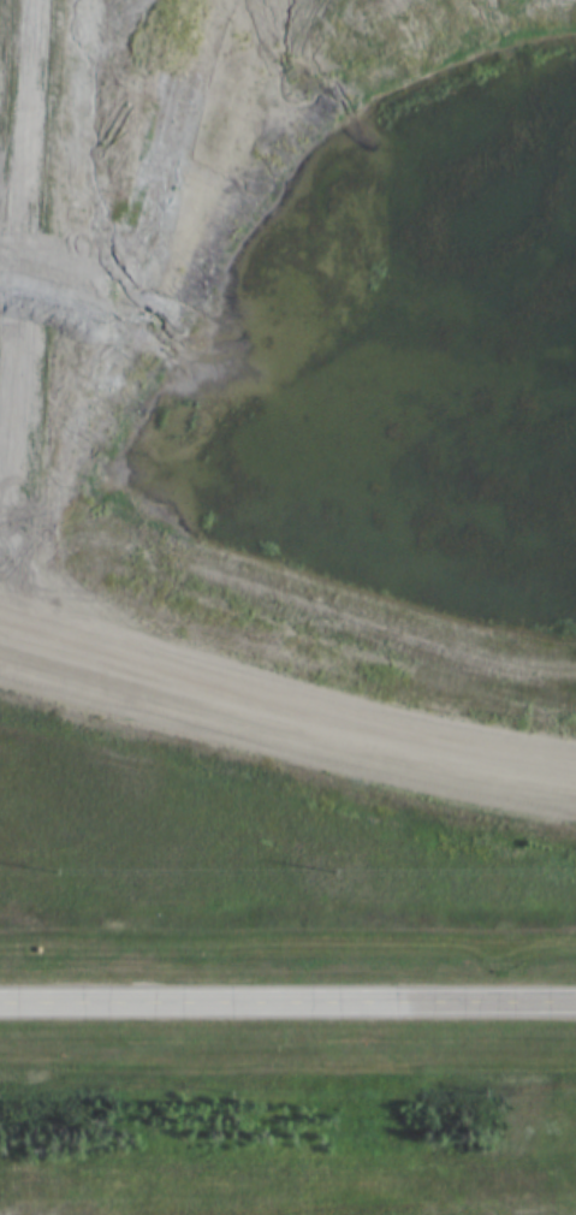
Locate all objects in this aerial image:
road: (287, 1002)
quarry: (284, 1195)

